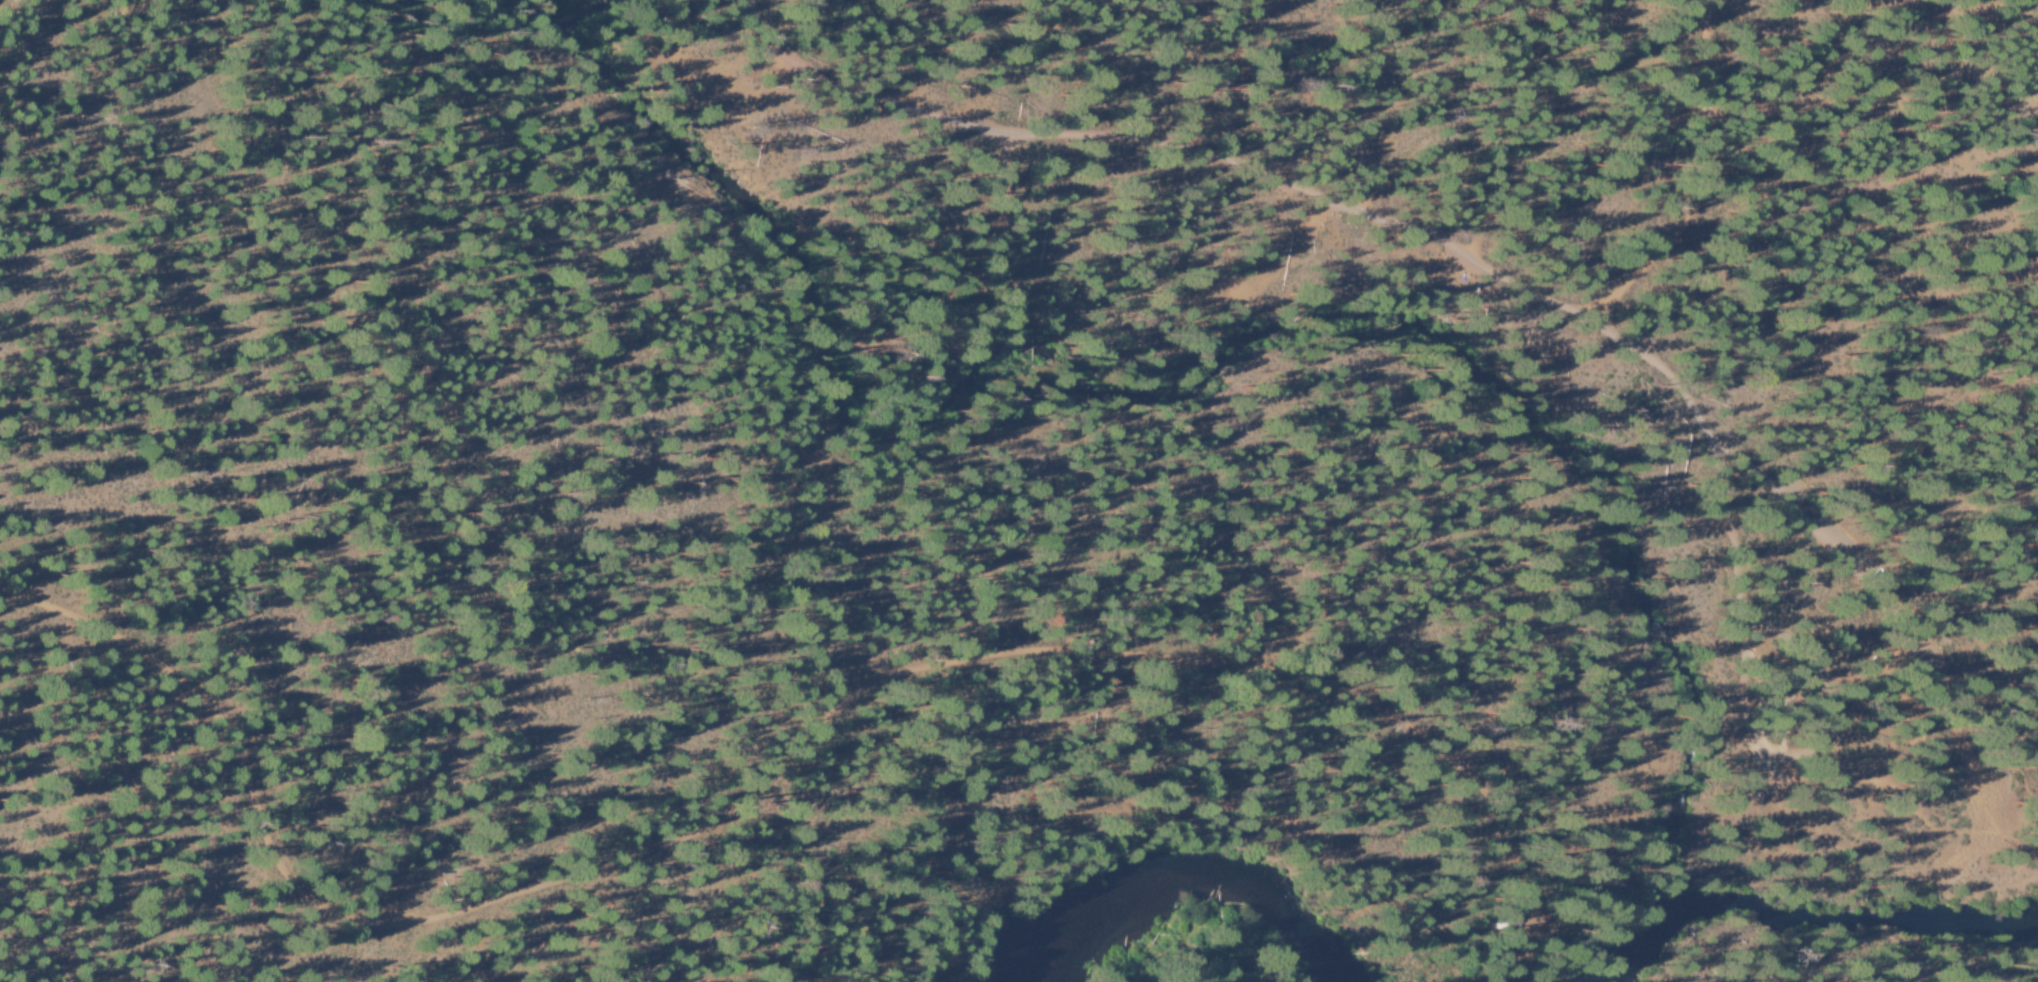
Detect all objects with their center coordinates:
road: (1258, 166)
road: (1719, 177)
parking lot: (1982, 823)
road: (2009, 834)
road: (1935, 860)
river: (1174, 888)
road: (423, 897)
river: (1787, 913)

